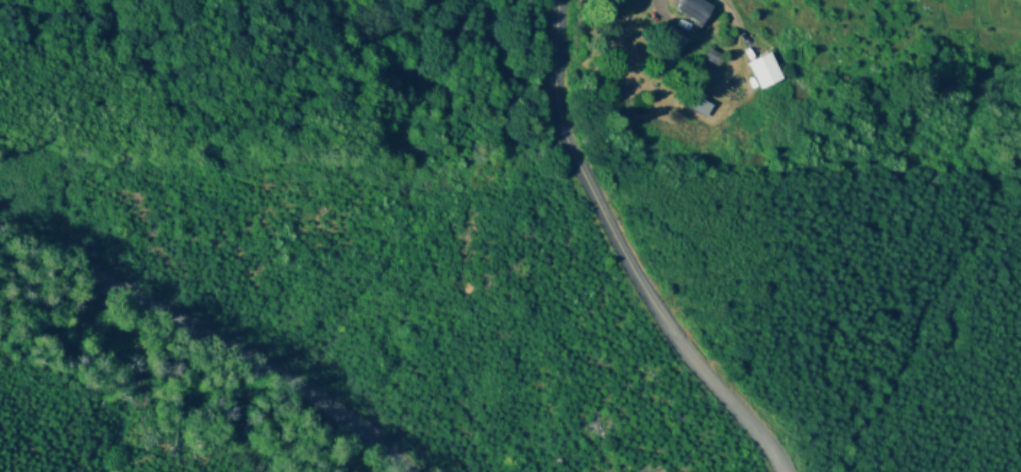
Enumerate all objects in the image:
building: (693, 10)
building: (671, 55)
building: (713, 58)
building: (763, 71)
building: (696, 106)
road: (619, 251)
road: (202, 308)

